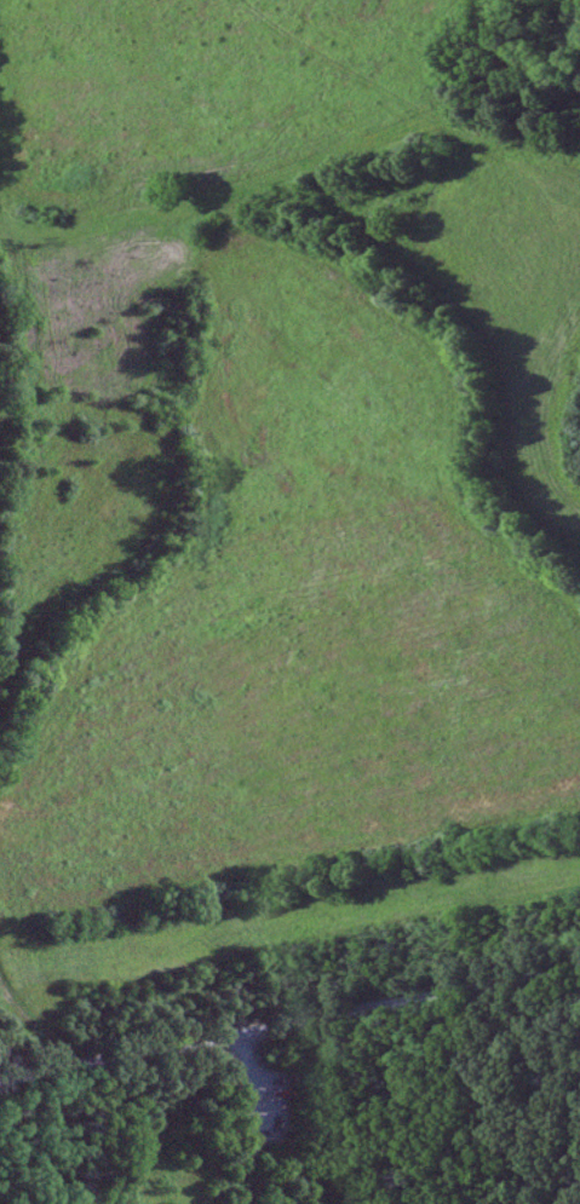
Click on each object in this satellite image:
road: (289, 1020)
parking lot: (237, 1053)

